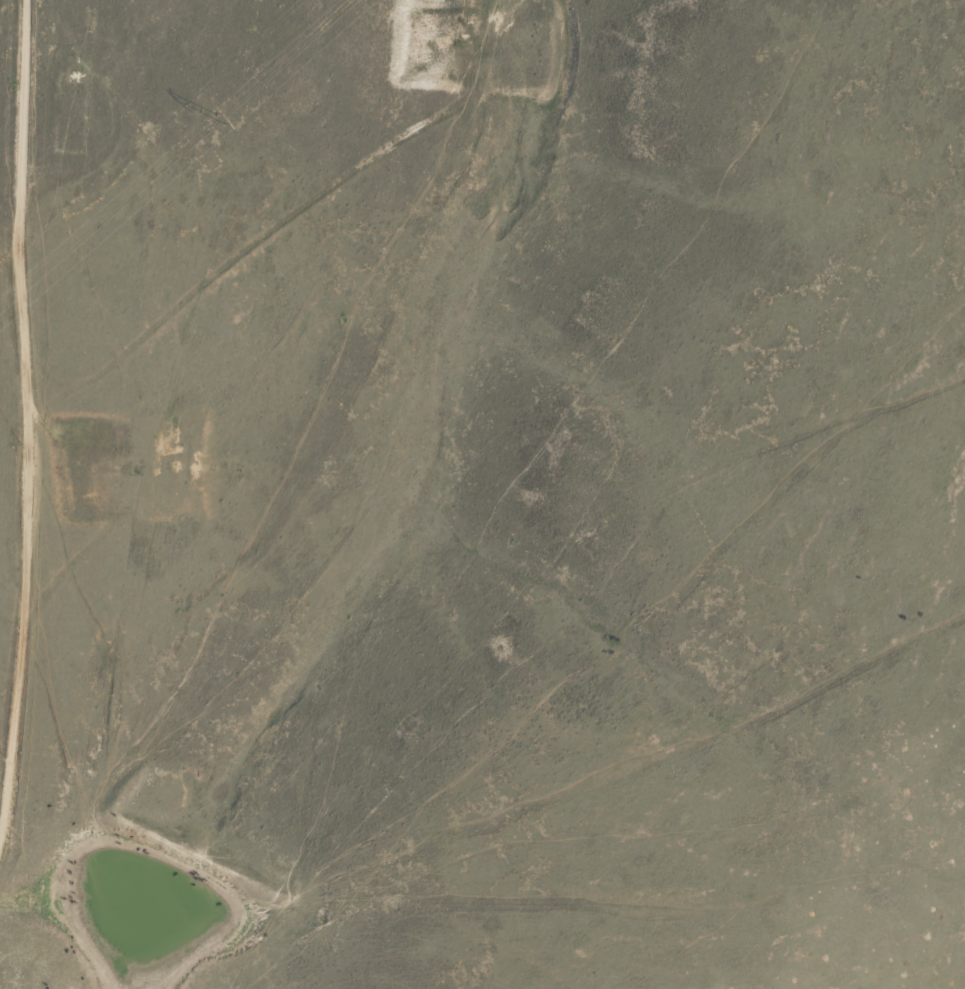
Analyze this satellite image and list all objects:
power tower: (217, 118)
road: (20, 630)

